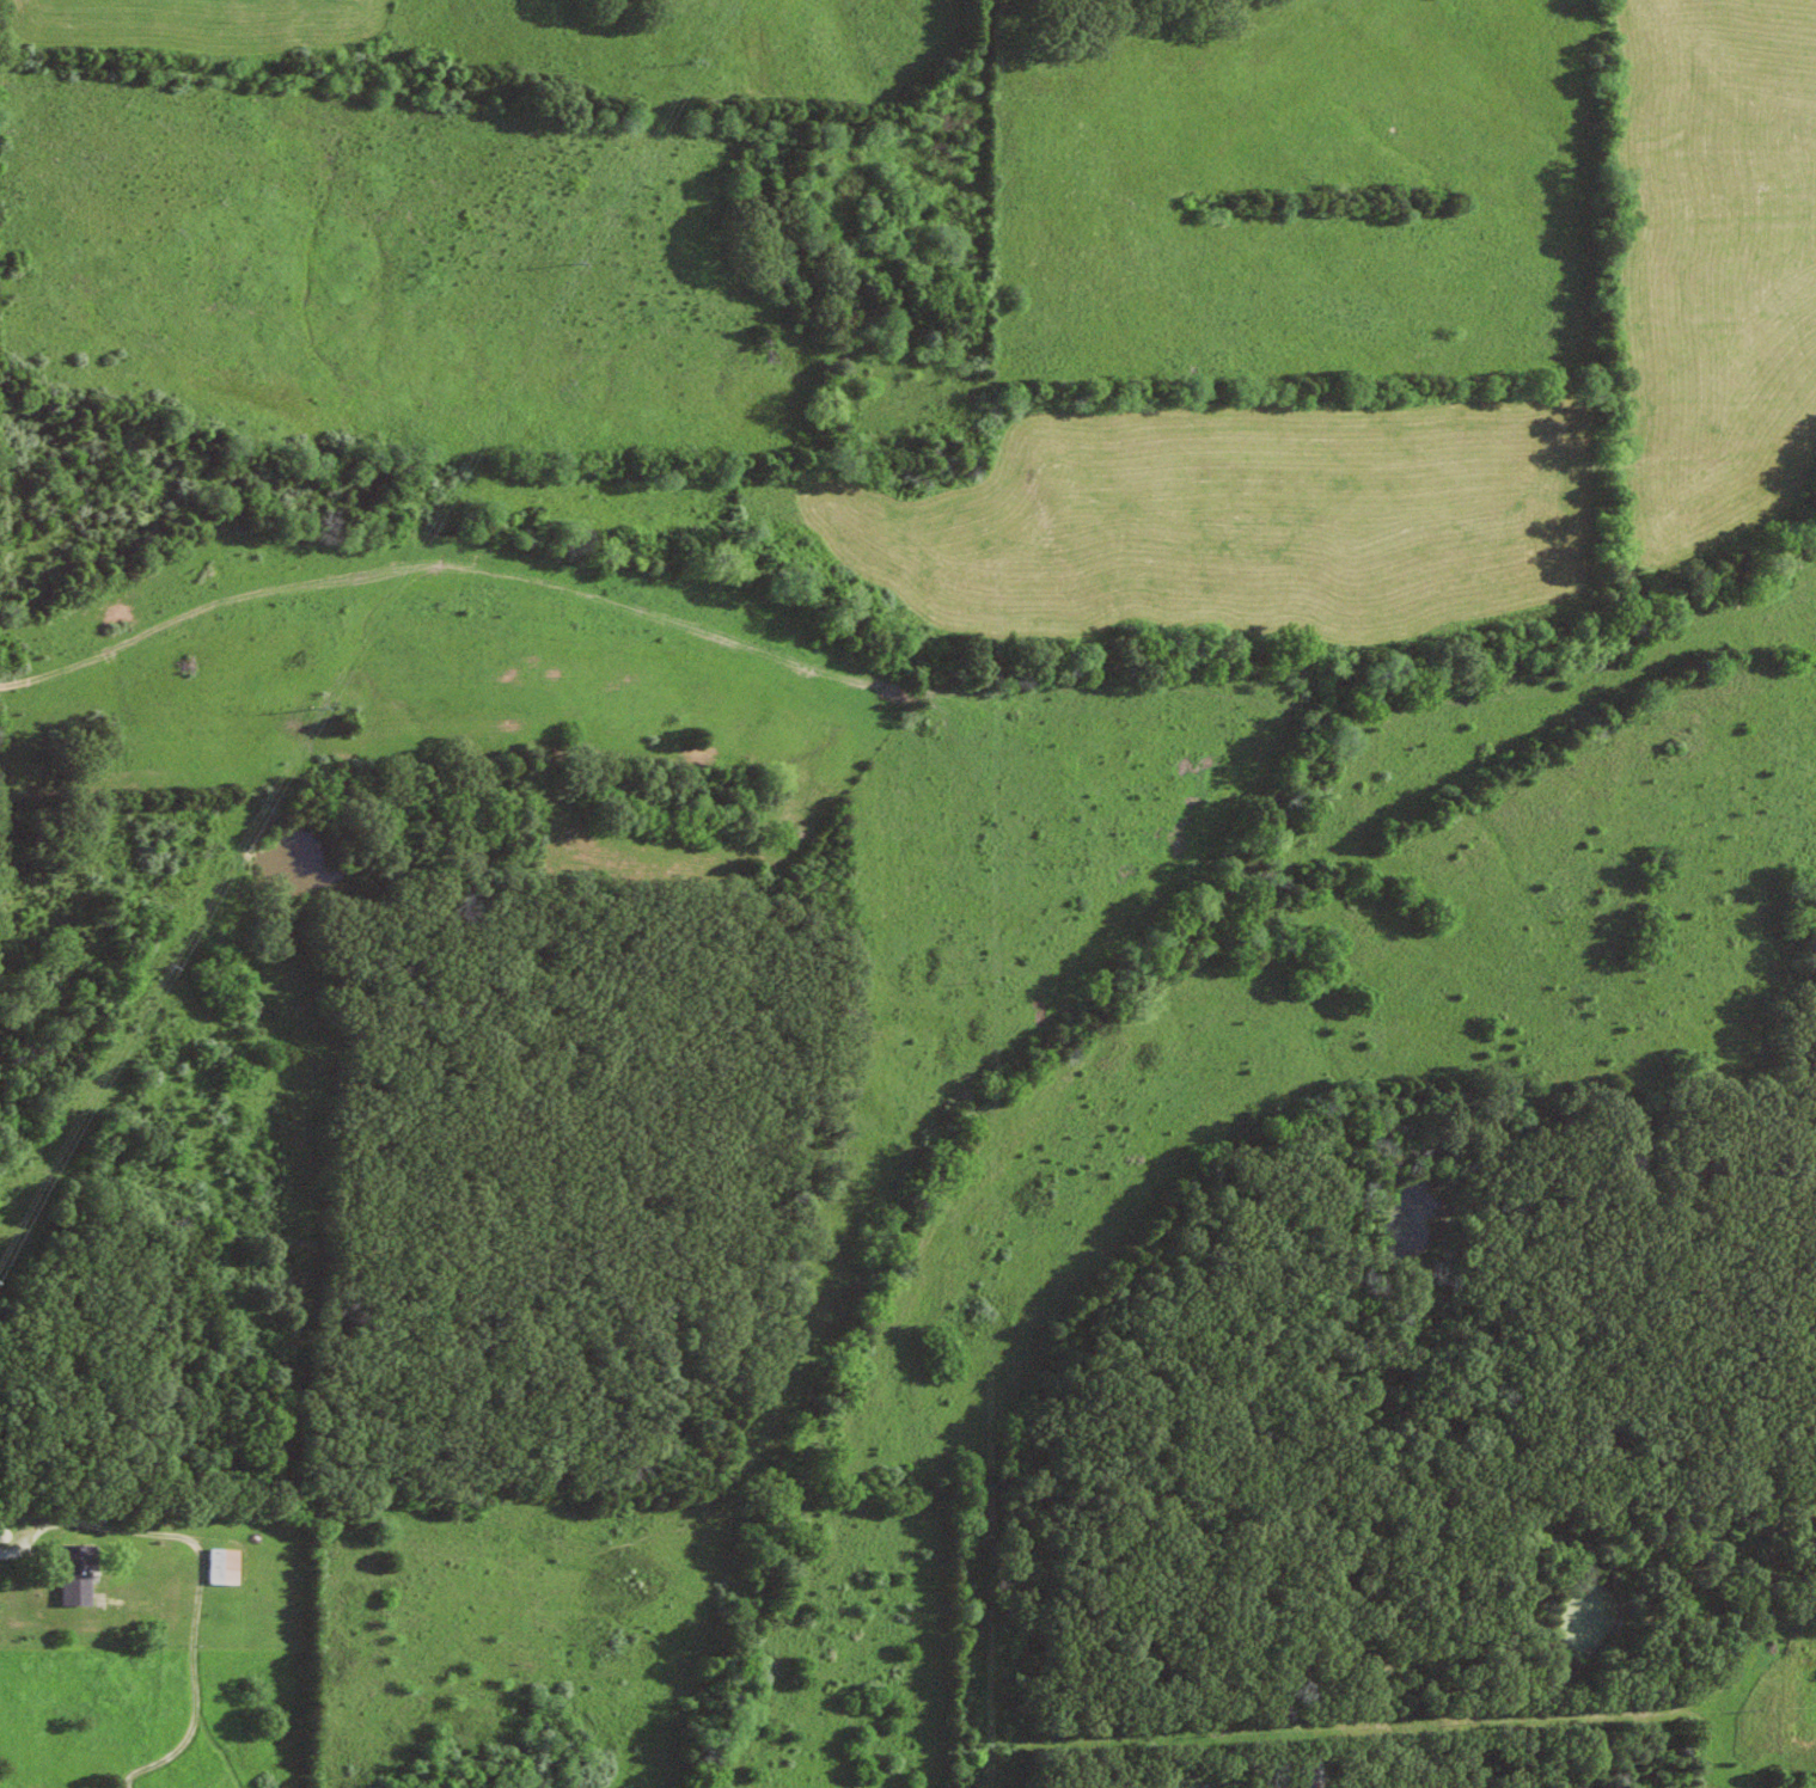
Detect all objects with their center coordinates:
road: (94, 1536)
building: (230, 1566)
building: (81, 1570)
building: (1311, 1776)

